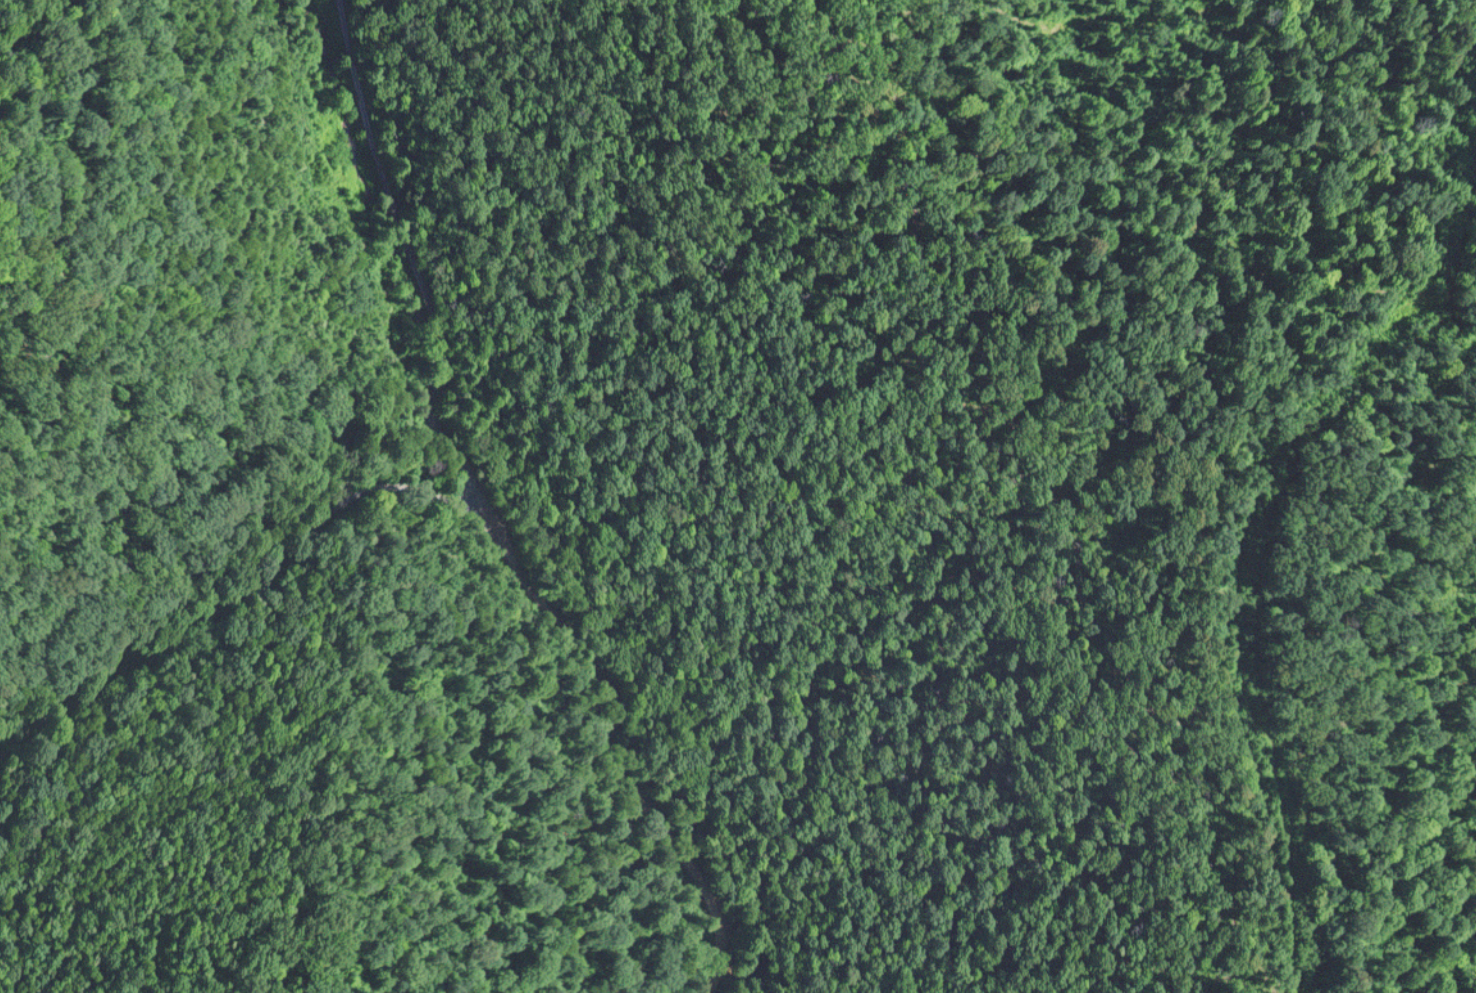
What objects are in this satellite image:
road: (460, 514)
road: (212, 600)

